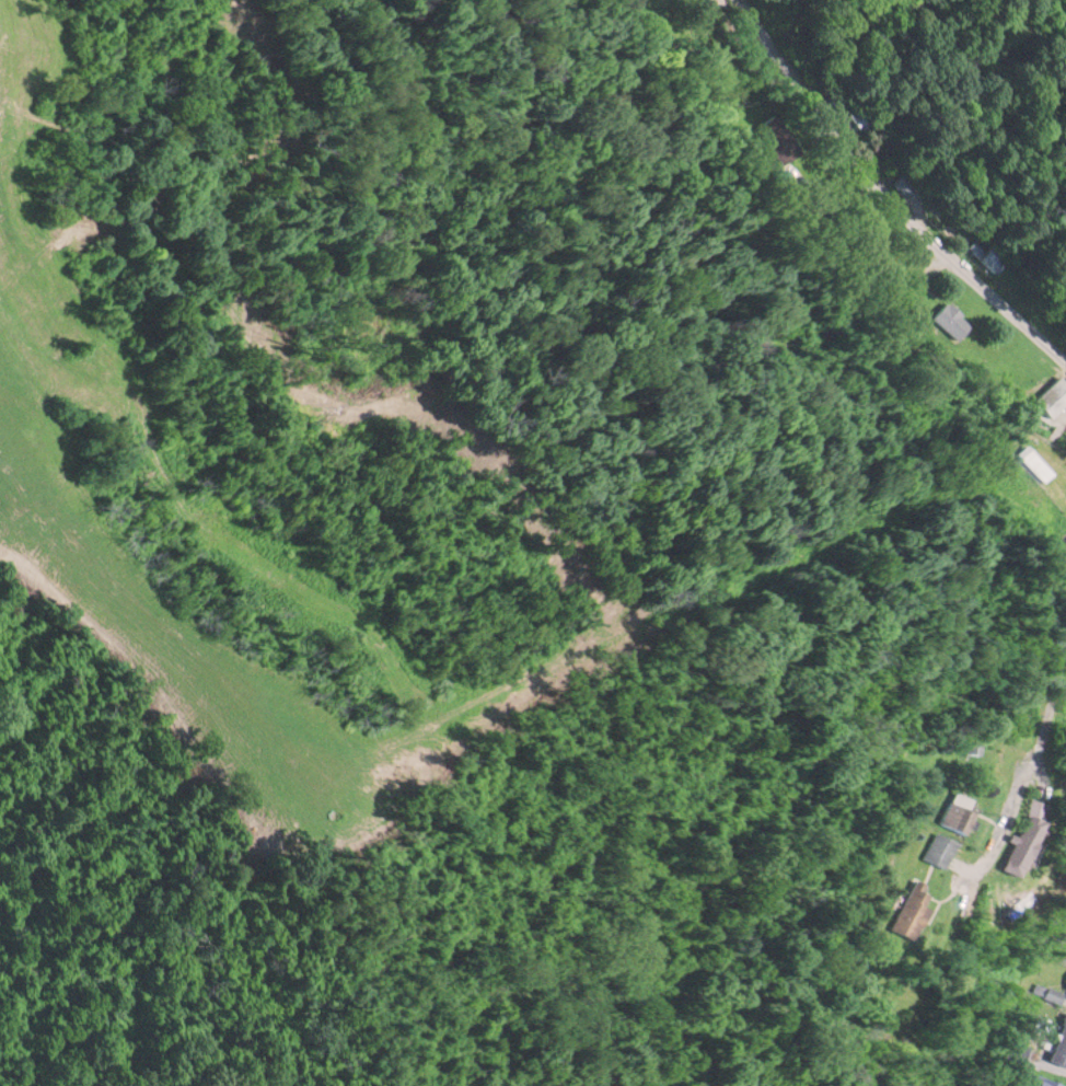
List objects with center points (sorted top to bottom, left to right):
road: (889, 195)
building: (989, 261)
building: (950, 320)
building: (1051, 396)
building: (1035, 462)
road: (1042, 743)
building: (953, 813)
building: (1020, 835)
building: (936, 847)
building: (907, 910)
building: (1065, 993)
building: (1058, 1047)
building: (1040, 1081)
building: (995, 1085)

